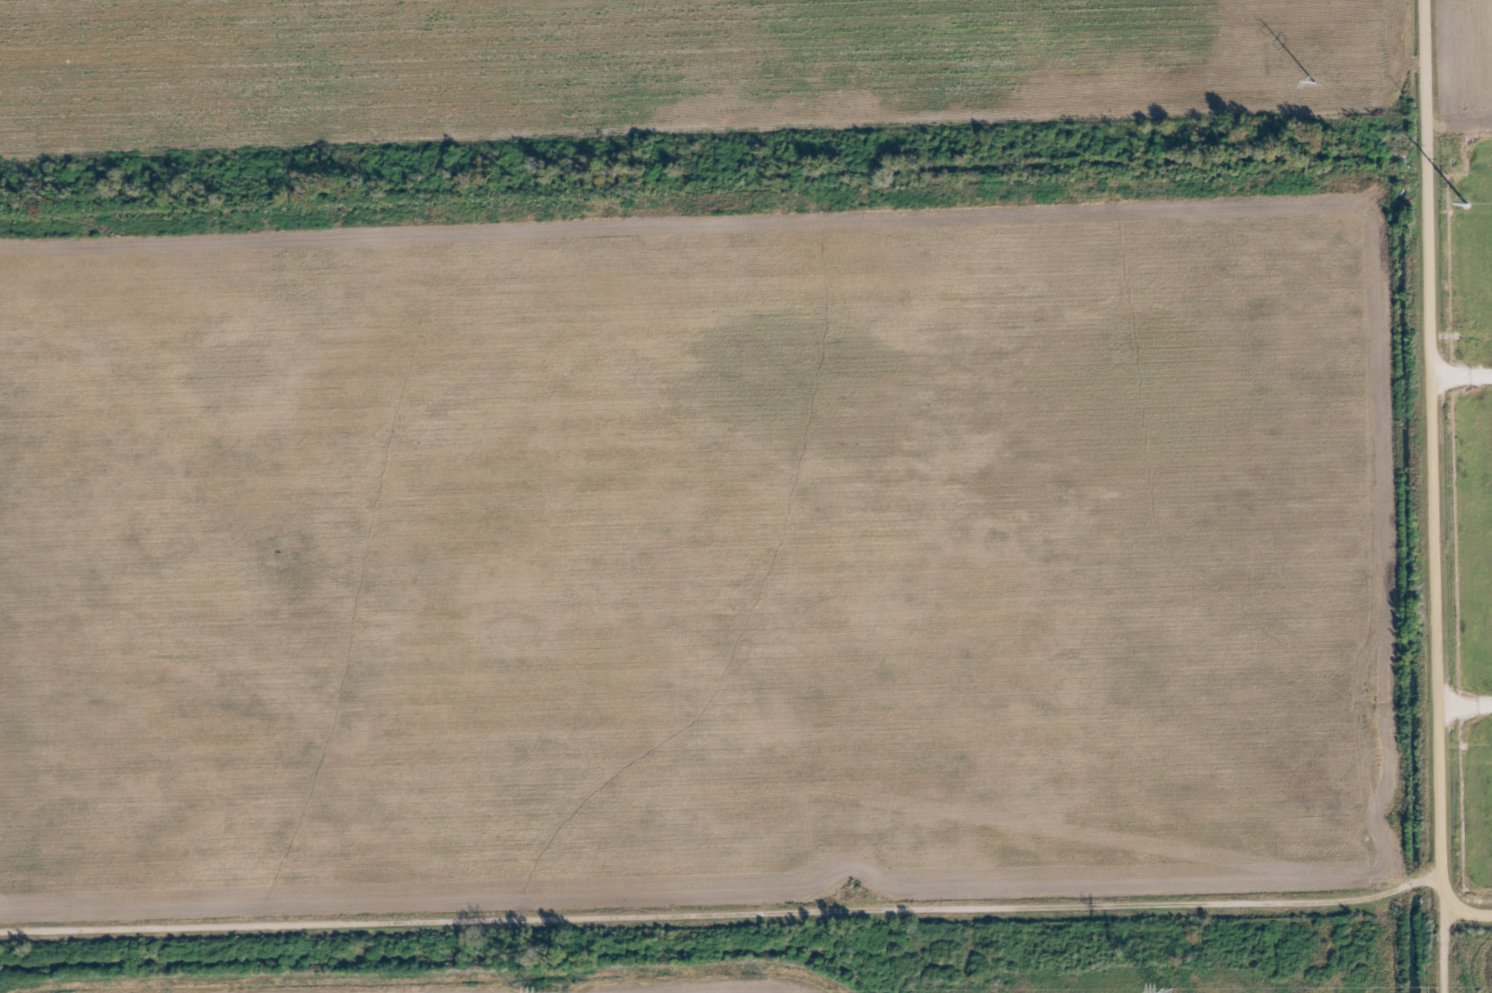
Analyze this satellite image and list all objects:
power tower: (1312, 81)
power tower: (1462, 204)
road: (1460, 374)
road: (1430, 478)
power substation: (1472, 493)
road: (1463, 705)

